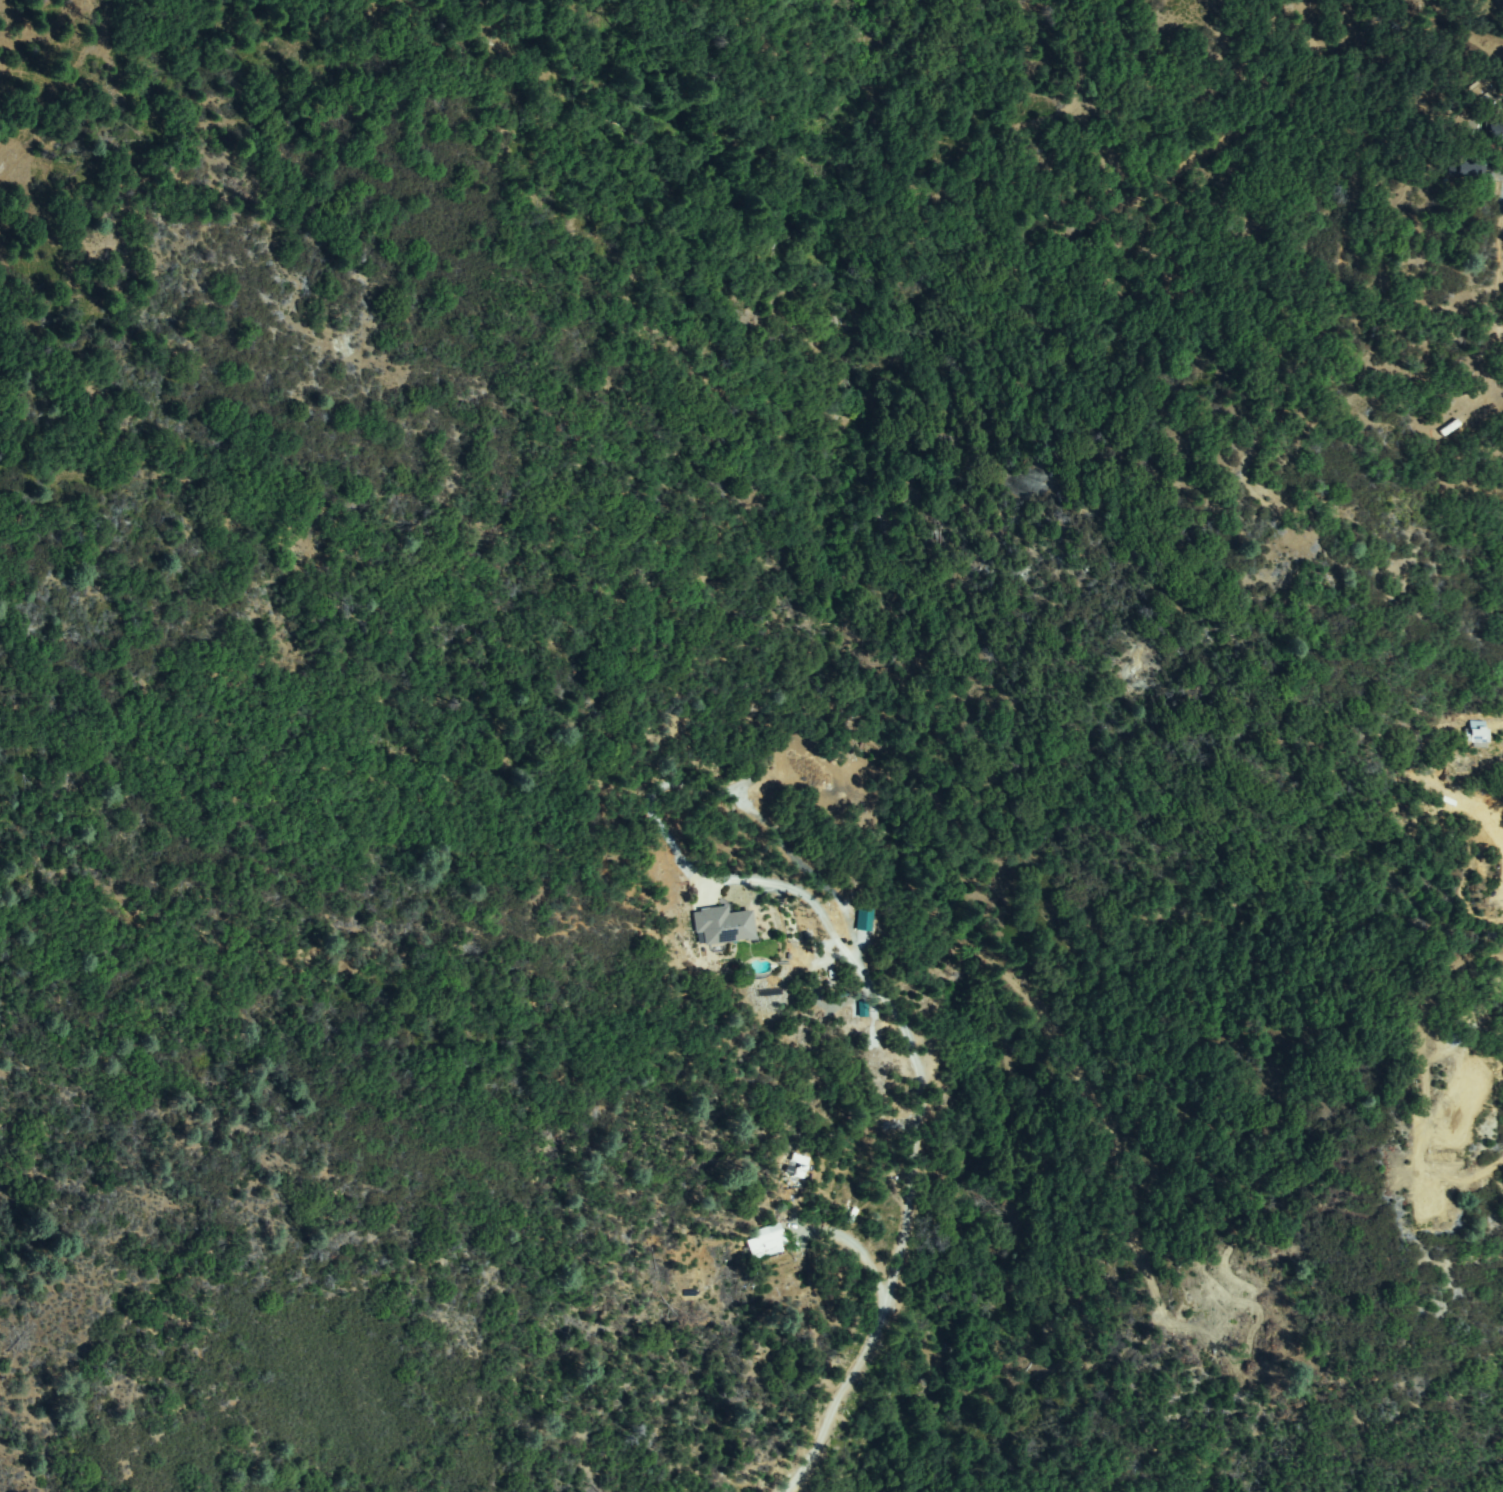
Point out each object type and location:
building: (1495, 131)
building: (1466, 170)
building: (1475, 735)
building: (862, 919)
building: (723, 925)
building: (795, 1164)
building: (767, 1243)
road: (1214, 1310)

